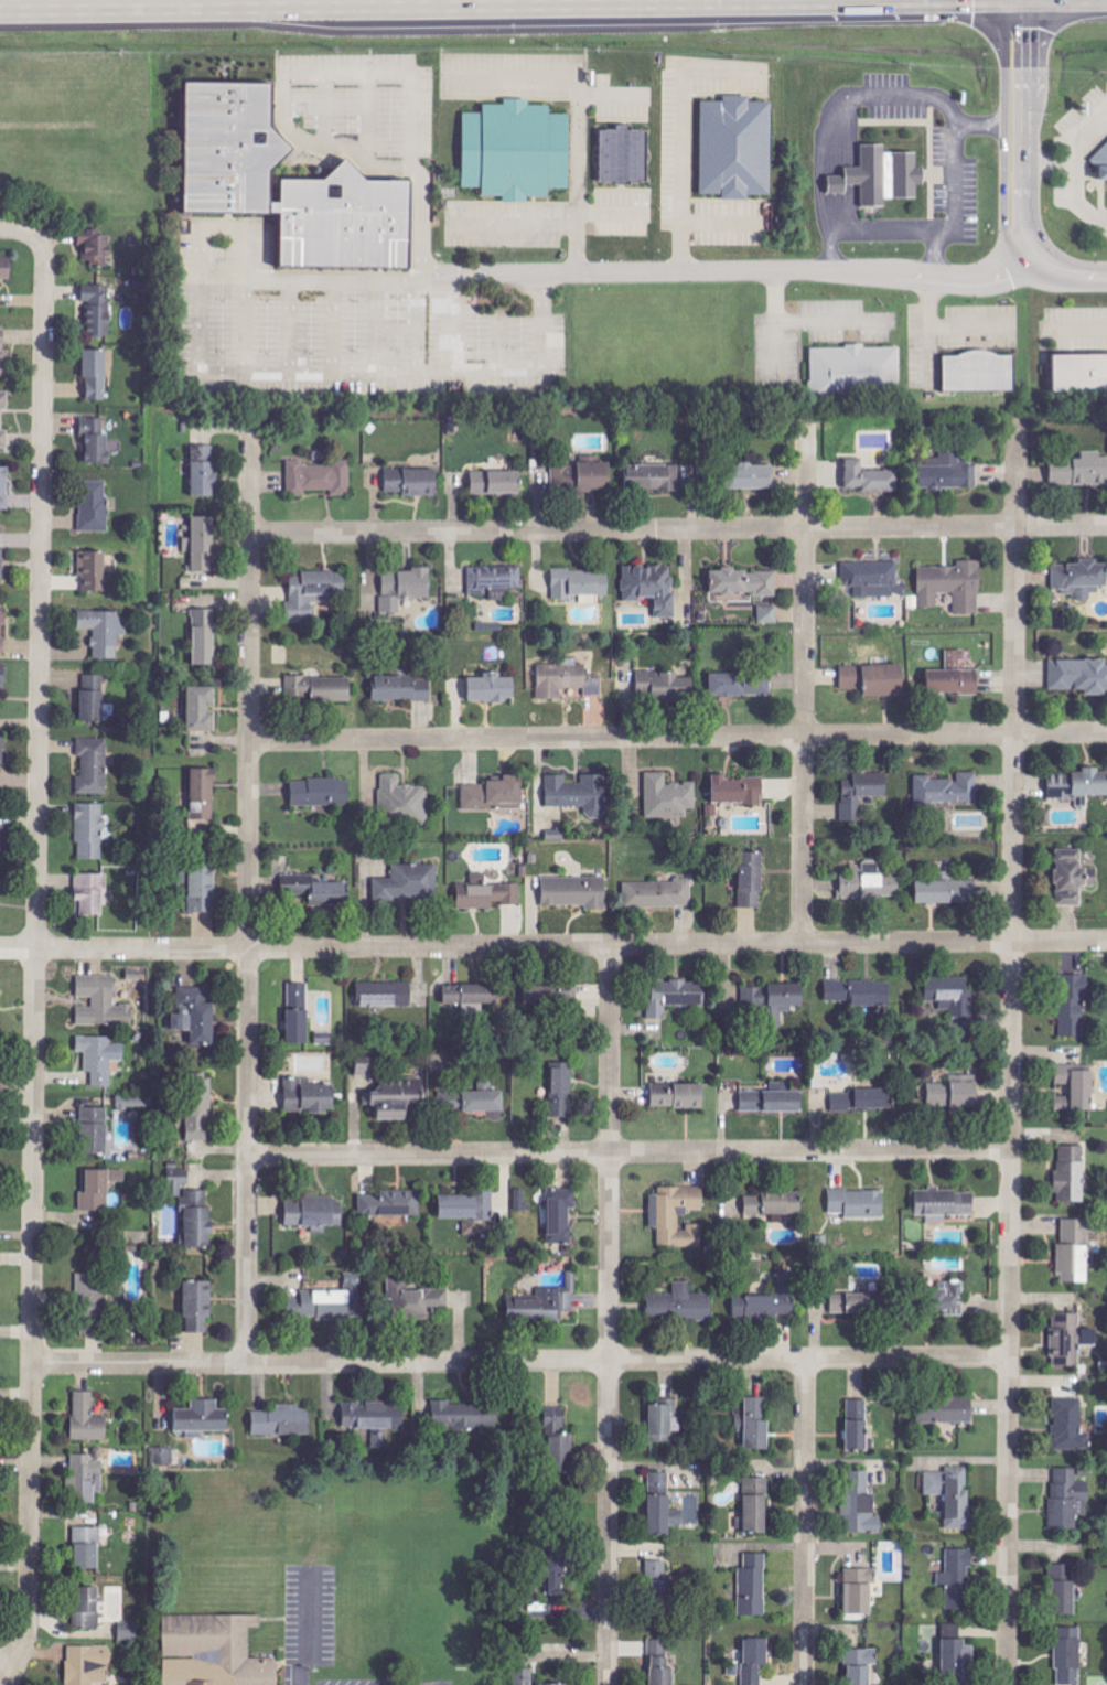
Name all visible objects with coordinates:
traffic signals: (976, 1)
road: (518, 6)
traffic signals: (1035, 29)
road: (839, 101)
road: (574, 116)
road: (409, 129)
road: (1031, 129)
road: (1006, 137)
building: (737, 148)
building: (517, 150)
building: (624, 154)
road: (1051, 162)
road: (1072, 162)
building: (1101, 162)
building: (882, 175)
road: (677, 178)
building: (290, 183)
road: (1103, 226)
road: (941, 227)
road: (10, 228)
building: (97, 247)
road: (931, 255)
building: (6, 268)
road: (738, 271)
road: (1066, 276)
building: (98, 309)
road: (1081, 329)
building: (4, 355)
building: (857, 372)
building: (980, 372)
building: (1081, 374)
building: (96, 375)
road: (208, 379)
building: (1, 421)
building: (95, 442)
building: (204, 471)
building: (1081, 471)
building: (585, 473)
building: (949, 474)
building: (753, 476)
building: (320, 477)
building: (654, 477)
building: (871, 477)
building: (412, 482)
building: (497, 483)
building: (4, 487)
building: (95, 506)
road: (678, 530)
building: (202, 544)
building: (1, 555)
building: (93, 570)
building: (873, 579)
building: (1081, 579)
building: (494, 580)
building: (744, 582)
building: (953, 586)
building: (652, 587)
building: (405, 588)
building: (315, 592)
building: (769, 614)
building: (2, 625)
building: (490, 627)
building: (105, 632)
building: (204, 637)
building: (3, 675)
building: (1079, 676)
building: (852, 677)
building: (954, 677)
road: (804, 678)
building: (567, 680)
building: (885, 680)
building: (666, 686)
building: (739, 686)
building: (319, 688)
building: (404, 688)
building: (493, 688)
building: (93, 698)
building: (202, 709)
road: (678, 737)
building: (1, 754)
building: (93, 766)
building: (1079, 785)
building: (738, 790)
building: (948, 791)
building: (321, 793)
building: (579, 793)
building: (204, 794)
building: (862, 794)
building: (495, 795)
building: (668, 796)
building: (402, 802)
building: (90, 831)
building: (3, 836)
building: (1074, 878)
building: (752, 880)
building: (1, 881)
building: (409, 883)
building: (870, 883)
building: (202, 884)
building: (316, 890)
road: (248, 892)
building: (576, 892)
building: (948, 892)
building: (486, 893)
building: (92, 894)
building: (658, 894)
road: (553, 945)
road: (36, 947)
building: (858, 994)
building: (385, 995)
building: (675, 996)
building: (471, 998)
building: (774, 1002)
building: (103, 1004)
building: (1075, 1005)
building: (954, 1007)
building: (299, 1013)
building: (196, 1016)
road: (1011, 1048)
building: (100, 1058)
building: (366, 1065)
building: (1076, 1088)
building: (562, 1091)
building: (954, 1095)
building: (678, 1096)
building: (310, 1097)
building: (396, 1098)
building: (773, 1101)
building: (452, 1102)
building: (485, 1102)
building: (845, 1102)
building: (200, 1107)
building: (95, 1131)
road: (628, 1151)
building: (1072, 1174)
building: (178, 1182)
building: (99, 1189)
building: (522, 1200)
building: (774, 1204)
building: (859, 1204)
building: (944, 1204)
building: (389, 1205)
building: (467, 1210)
building: (314, 1213)
building: (561, 1215)
building: (677, 1216)
building: (198, 1221)
building: (1075, 1252)
building: (90, 1298)
building: (950, 1298)
building: (330, 1302)
building: (770, 1302)
building: (859, 1303)
building: (545, 1305)
building: (680, 1305)
building: (198, 1307)
road: (609, 1314)
building: (1070, 1340)
road: (520, 1360)
building: (946, 1412)
building: (203, 1418)
building: (464, 1418)
building: (88, 1419)
building: (282, 1421)
building: (376, 1421)
building: (665, 1421)
building: (757, 1425)
building: (858, 1426)
building: (1070, 1426)
building: (560, 1440)
building: (162, 1459)
building: (86, 1479)
building: (935, 1484)
building: (958, 1498)
building: (1068, 1499)
building: (662, 1505)
building: (861, 1505)
building: (757, 1506)
road: (804, 1522)
building: (88, 1547)
building: (557, 1567)
building: (659, 1578)
building: (957, 1578)
building: (753, 1585)
building: (1065, 1588)
building: (860, 1589)
building: (87, 1607)
building: (214, 1651)
building: (1070, 1655)
building: (754, 1660)
building: (958, 1662)
building: (660, 1663)
building: (89, 1664)
building: (861, 1665)
building: (524, 1676)
road: (3, 1677)
building: (552, 1684)

